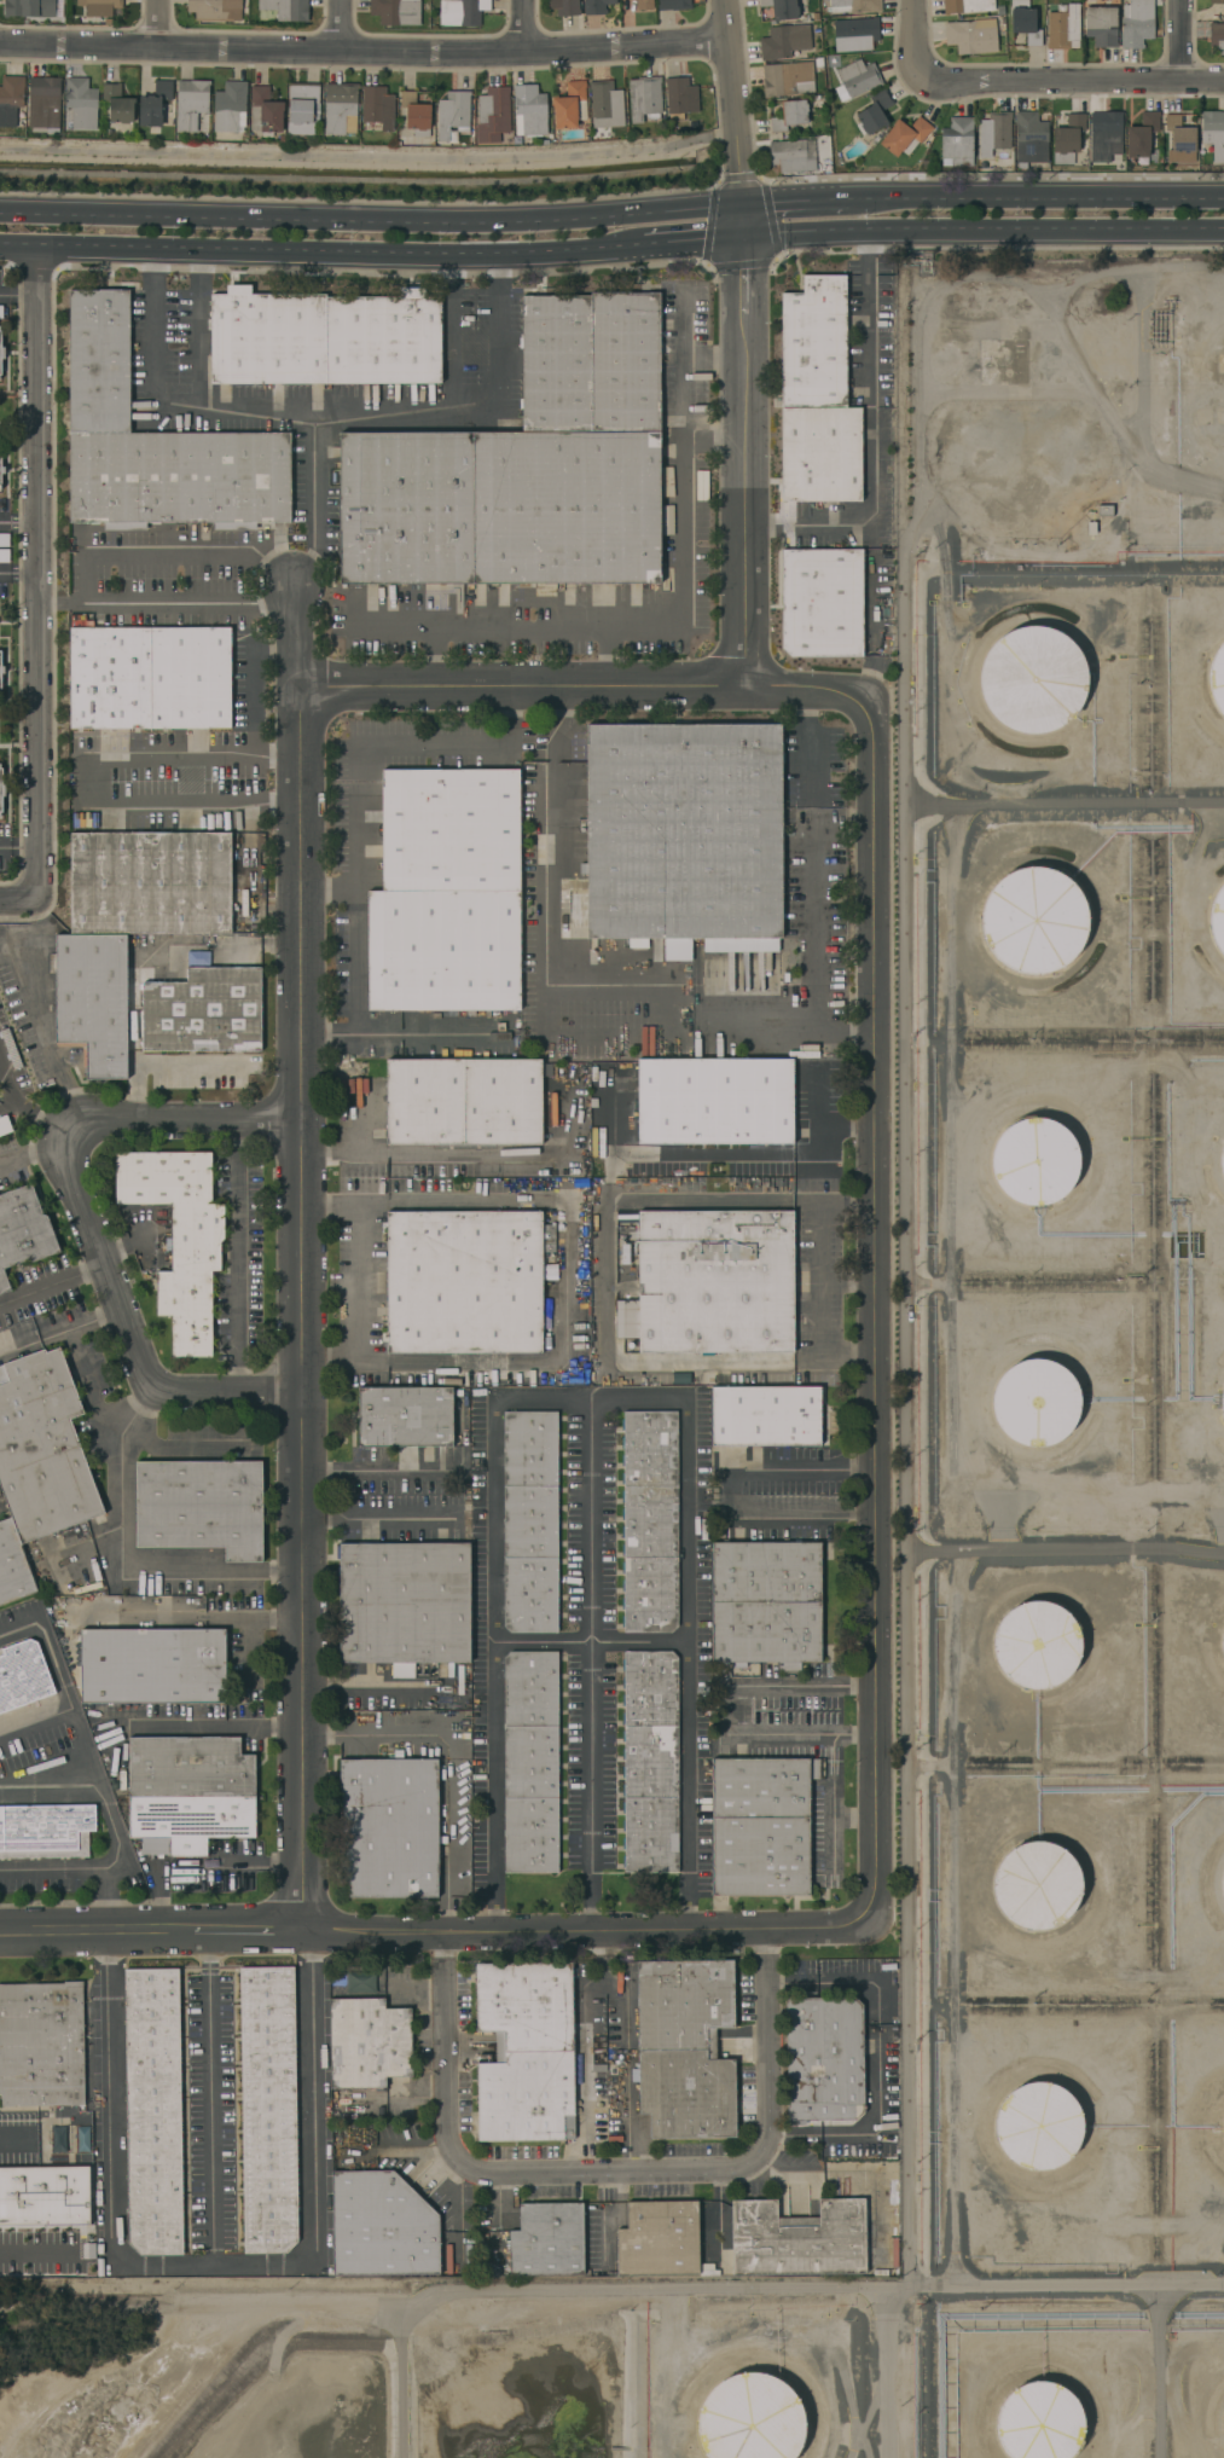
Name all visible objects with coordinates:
building: (1217, 1)
building: (644, 5)
building: (674, 5)
building: (596, 6)
building: (854, 6)
building: (967, 6)
building: (564, 7)
building: (29, 8)
building: (285, 8)
building: (781, 8)
building: (215, 10)
building: (1000, 10)
building: (97, 11)
building: (395, 11)
building: (462, 12)
building: (1023, 22)
road: (161, 23)
building: (1137, 23)
road: (342, 24)
road: (527, 24)
building: (1101, 25)
building: (1063, 28)
building: (1216, 31)
building: (855, 35)
building: (974, 35)
building: (784, 41)
road: (918, 41)
road: (1178, 41)
road: (365, 50)
building: (819, 63)
building: (787, 79)
building: (855, 79)
road: (1073, 82)
building: (680, 98)
building: (644, 99)
building: (11, 100)
building: (81, 103)
building: (43, 104)
building: (117, 104)
building: (153, 104)
building: (191, 104)
building: (605, 104)
building: (569, 105)
building: (377, 106)
building: (230, 108)
building: (302, 108)
building: (340, 108)
building: (529, 110)
building: (265, 112)
building: (874, 114)
building: (414, 115)
building: (452, 115)
building: (493, 115)
building: (789, 115)
building: (993, 133)
building: (1213, 133)
building: (1103, 135)
building: (1142, 135)
building: (905, 137)
building: (1029, 138)
building: (1067, 139)
building: (1179, 140)
building: (957, 143)
building: (793, 156)
road: (369, 158)
road: (1037, 197)
road: (797, 201)
traffic signals: (743, 202)
road: (371, 220)
road: (984, 230)
road: (691, 238)
traffic signals: (746, 238)
road: (319, 249)
road: (862, 254)
road: (21, 297)
building: (0, 312)
building: (329, 337)
road: (746, 338)
building: (813, 343)
road: (499, 352)
building: (0, 354)
road: (715, 360)
road: (684, 363)
road: (402, 406)
road: (176, 410)
building: (157, 440)
building: (820, 454)
building: (528, 465)
road: (871, 466)
building: (0, 468)
road: (314, 471)
road: (18, 520)
road: (840, 527)
road: (777, 528)
road: (170, 557)
road: (35, 575)
road: (17, 576)
building: (822, 602)
road: (168, 603)
road: (646, 625)
road: (609, 653)
building: (0, 671)
building: (151, 678)
road: (876, 678)
building: (1033, 679)
storage tank: (1033, 679)
building: (1217, 679)
storage tank: (1217, 679)
road: (591, 682)
road: (250, 696)
road: (563, 724)
road: (808, 749)
road: (88, 779)
building: (0, 788)
building: (685, 835)
road: (14, 842)
road: (356, 862)
building: (152, 882)
road: (329, 886)
building: (448, 895)
road: (14, 905)
building: (1218, 920)
storage tank: (1218, 920)
building: (1033, 921)
storage tank: (1033, 921)
road: (139, 956)
building: (94, 1002)
building: (207, 1013)
road: (661, 1015)
road: (826, 1027)
road: (860, 1027)
road: (48, 1042)
road: (327, 1047)
road: (187, 1063)
building: (465, 1105)
building: (714, 1105)
road: (5, 1107)
road: (19, 1109)
road: (468, 1155)
road: (759, 1155)
building: (1034, 1161)
storage tank: (1034, 1161)
building: (1222, 1161)
storage tank: (1222, 1161)
road: (33, 1163)
road: (835, 1198)
road: (700, 1199)
road: (344, 1202)
road: (460, 1202)
road: (92, 1217)
building: (24, 1228)
road: (820, 1233)
building: (182, 1235)
road: (300, 1254)
road: (236, 1256)
road: (360, 1280)
road: (53, 1282)
road: (607, 1282)
building: (714, 1283)
building: (464, 1285)
road: (820, 1288)
road: (877, 1311)
road: (34, 1344)
road: (565, 1356)
road: (330, 1360)
road: (372, 1362)
road: (835, 1364)
road: (701, 1366)
building: (1223, 1373)
road: (87, 1384)
road: (911, 1390)
road: (539, 1396)
building: (1036, 1403)
storage tank: (1036, 1403)
building: (1223, 1403)
storage tank: (1223, 1403)
building: (765, 1418)
building: (405, 1419)
building: (43, 1447)
road: (379, 1471)
road: (729, 1494)
building: (204, 1507)
road: (381, 1513)
building: (530, 1521)
road: (122, 1524)
building: (650, 1525)
building: (14, 1566)
building: (767, 1602)
building: (402, 1605)
road: (694, 1608)
road: (185, 1622)
road: (590, 1642)
building: (1223, 1644)
storage tank: (1223, 1644)
building: (1037, 1645)
storage tank: (1037, 1645)
building: (153, 1668)
building: (1222, 1669)
building: (24, 1676)
road: (735, 1709)
road: (34, 1718)
road: (75, 1726)
road: (208, 1731)
road: (449, 1756)
building: (651, 1762)
building: (529, 1763)
building: (192, 1793)
road: (839, 1818)
road: (114, 1824)
building: (390, 1828)
building: (762, 1828)
building: (48, 1833)
road: (195, 1866)
road: (83, 1869)
building: (1223, 1880)
storage tank: (1223, 1880)
building: (1037, 1885)
storage tank: (1037, 1885)
road: (439, 1927)
road: (208, 1958)
building: (360, 1981)
road: (833, 1983)
building: (367, 2042)
road: (582, 2043)
building: (41, 2045)
building: (685, 2048)
building: (526, 2052)
building: (824, 2059)
building: (267, 2109)
building: (152, 2111)
road: (627, 2121)
road: (210, 2123)
building: (1038, 2126)
storage tank: (1038, 2126)
road: (870, 2135)
road: (609, 2170)
building: (43, 2195)
building: (381, 2227)
building: (659, 2238)
building: (807, 2239)
building: (547, 2240)
road: (30, 2251)
road: (213, 2260)
building: (706, 2269)
road: (1057, 2284)
road: (574, 2292)
road: (891, 2372)
building: (1223, 2399)
building: (750, 2418)
storage tank: (750, 2418)
building: (1039, 2422)
storage tank: (1039, 2422)

